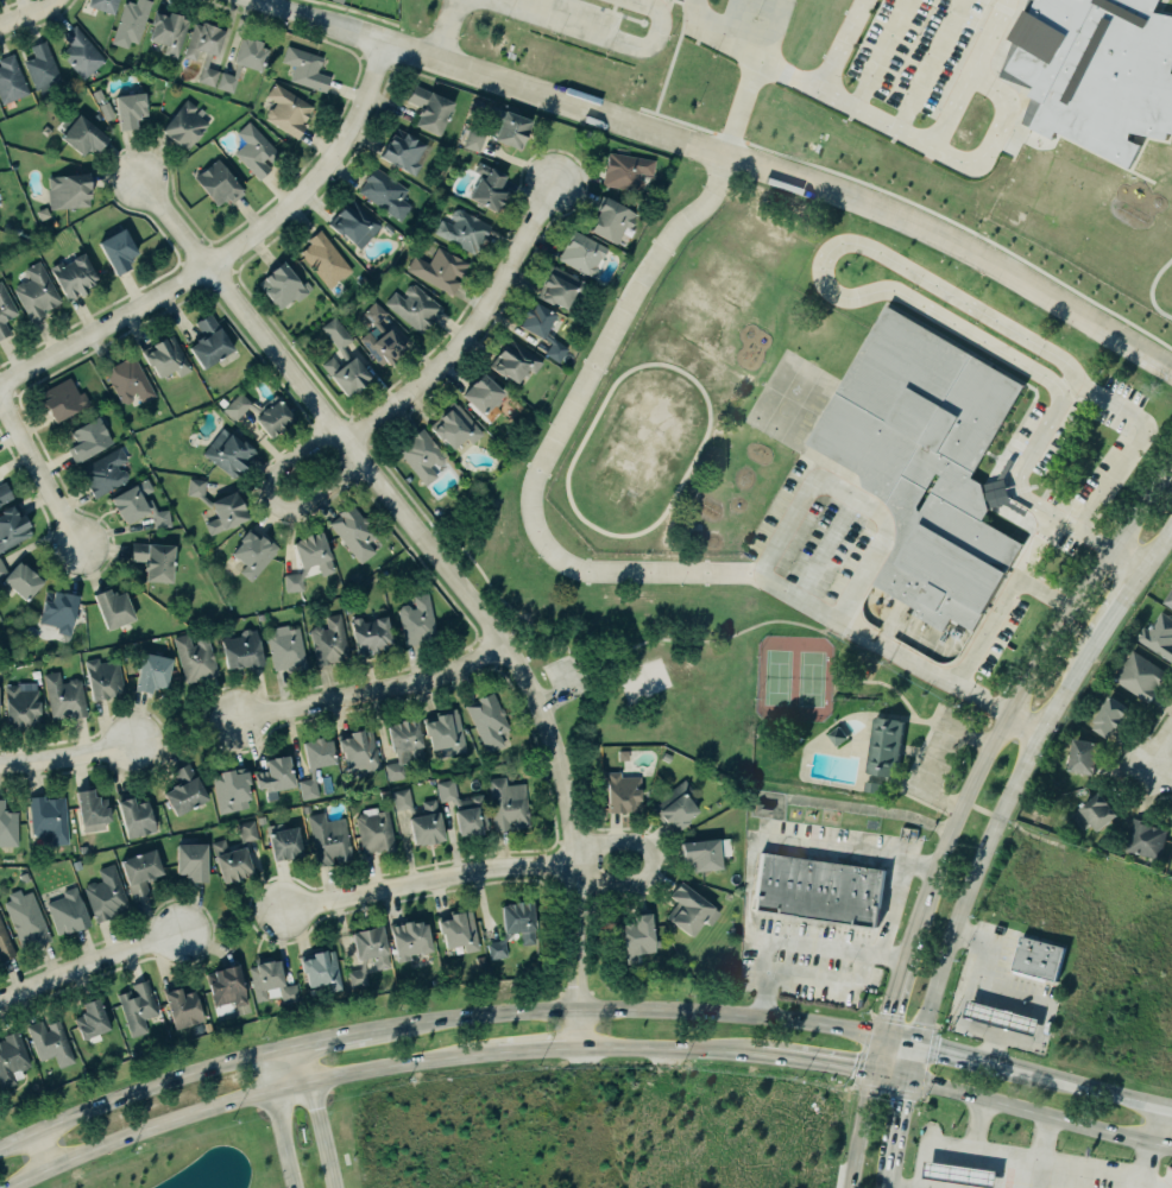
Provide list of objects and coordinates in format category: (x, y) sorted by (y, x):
road: (254, 0)
building: (680, 0)
building: (103, 5)
road: (731, 13)
road: (29, 15)
building: (130, 21)
road: (441, 30)
building: (168, 31)
road: (743, 32)
road: (599, 37)
road: (839, 45)
building: (204, 48)
building: (80, 52)
building: (244, 61)
building: (42, 69)
building: (305, 69)
road: (966, 72)
building: (1098, 72)
building: (11, 80)
building: (96, 94)
building: (131, 108)
building: (429, 108)
building: (106, 110)
building: (286, 110)
road: (882, 122)
building: (184, 125)
building: (500, 129)
building: (82, 132)
building: (254, 150)
building: (403, 151)
road: (724, 156)
building: (625, 171)
building: (219, 183)
building: (489, 187)
building: (68, 190)
building: (384, 192)
building: (42, 213)
building: (611, 219)
building: (354, 223)
building: (462, 230)
building: (119, 251)
building: (581, 252)
road: (229, 253)
building: (324, 260)
building: (439, 268)
building: (73, 277)
building: (283, 284)
building: (561, 287)
building: (34, 291)
road: (861, 295)
building: (414, 308)
building: (5, 310)
building: (542, 328)
road: (475, 331)
building: (379, 336)
building: (209, 341)
building: (166, 358)
building: (515, 360)
building: (344, 361)
building: (128, 380)
road: (584, 384)
building: (484, 392)
building: (63, 399)
building: (264, 412)
building: (454, 425)
building: (88, 438)
road: (1134, 449)
building: (229, 453)
building: (421, 454)
building: (927, 462)
building: (103, 472)
road: (38, 474)
building: (5, 493)
road: (272, 504)
building: (139, 505)
building: (220, 507)
building: (12, 526)
building: (353, 531)
road: (1082, 535)
road: (1034, 546)
road: (823, 548)
road: (1157, 550)
building: (253, 554)
building: (155, 560)
building: (309, 560)
road: (761, 563)
road: (1126, 563)
building: (2, 569)
road: (449, 574)
road: (484, 577)
building: (23, 580)
building: (1170, 601)
road: (1002, 602)
road: (1119, 605)
building: (114, 607)
building: (58, 609)
building: (260, 617)
building: (416, 621)
road: (796, 623)
road: (821, 630)
building: (371, 633)
road: (555, 637)
road: (828, 637)
building: (1158, 637)
road: (527, 639)
road: (717, 639)
building: (328, 640)
building: (284, 647)
building: (241, 649)
road: (617, 652)
building: (195, 658)
road: (573, 663)
road: (836, 663)
building: (153, 672)
building: (1140, 676)
parking lot: (562, 678)
park: (639, 678)
park: (794, 678)
building: (103, 680)
road: (883, 682)
road: (584, 684)
road: (836, 685)
road: (368, 689)
building: (64, 696)
road: (549, 697)
road: (1016, 697)
park: (752, 703)
road: (938, 704)
building: (20, 706)
road: (932, 713)
road: (935, 713)
building: (1109, 714)
road: (895, 715)
building: (487, 720)
road: (922, 720)
road: (590, 725)
road: (1021, 725)
building: (445, 731)
road: (181, 732)
building: (836, 734)
road: (925, 735)
building: (403, 745)
building: (884, 745)
building: (358, 750)
road: (912, 750)
road: (1158, 750)
building: (624, 754)
parking lot: (935, 754)
road: (935, 754)
building: (666, 757)
building: (1083, 757)
road: (67, 758)
building: (315, 764)
road: (908, 770)
building: (276, 776)
road: (1158, 777)
building: (871, 785)
building: (185, 790)
building: (231, 790)
building: (623, 792)
road: (921, 801)
building: (508, 804)
building: (92, 807)
building: (676, 807)
road: (957, 808)
road: (978, 808)
building: (305, 809)
building: (465, 809)
building: (1095, 813)
building: (134, 815)
road: (996, 816)
building: (48, 817)
building: (421, 817)
building: (7, 827)
building: (373, 832)
road: (989, 833)
road: (1032, 835)
building: (328, 839)
building: (1143, 839)
building: (284, 841)
building: (234, 854)
building: (702, 854)
building: (193, 861)
road: (651, 861)
building: (140, 872)
building: (23, 877)
road: (427, 878)
building: (817, 889)
road: (894, 892)
building: (105, 895)
building: (691, 910)
building: (68, 912)
building: (26, 918)
road: (232, 921)
building: (515, 927)
building: (459, 929)
building: (639, 936)
building: (410, 939)
road: (796, 943)
building: (5, 946)
building: (368, 954)
building: (1038, 959)
road: (92, 961)
building: (321, 969)
building: (271, 981)
building: (227, 990)
road: (894, 997)
road: (1026, 998)
building: (138, 1006)
building: (182, 1007)
road: (625, 1011)
building: (1003, 1017)
building: (93, 1019)
road: (959, 1020)
traffic signals: (884, 1037)
road: (319, 1039)
road: (901, 1041)
building: (50, 1042)
traffic signals: (919, 1044)
road: (663, 1049)
road: (535, 1050)
building: (11, 1057)
road: (972, 1057)
road: (915, 1061)
road: (401, 1062)
road: (814, 1062)
road: (291, 1067)
traffic signals: (877, 1073)
road: (895, 1075)
traffic signals: (913, 1079)
road: (133, 1092)
road: (1098, 1092)
road: (868, 1112)
road: (1041, 1117)
road: (278, 1119)
road: (902, 1120)
road: (1154, 1126)
road: (158, 1129)
road: (321, 1135)
road: (1041, 1138)
road: (924, 1144)
road: (39, 1152)
park: (185, 1157)
road: (1033, 1157)
road: (1147, 1167)
building: (962, 1174)
road: (893, 1175)

